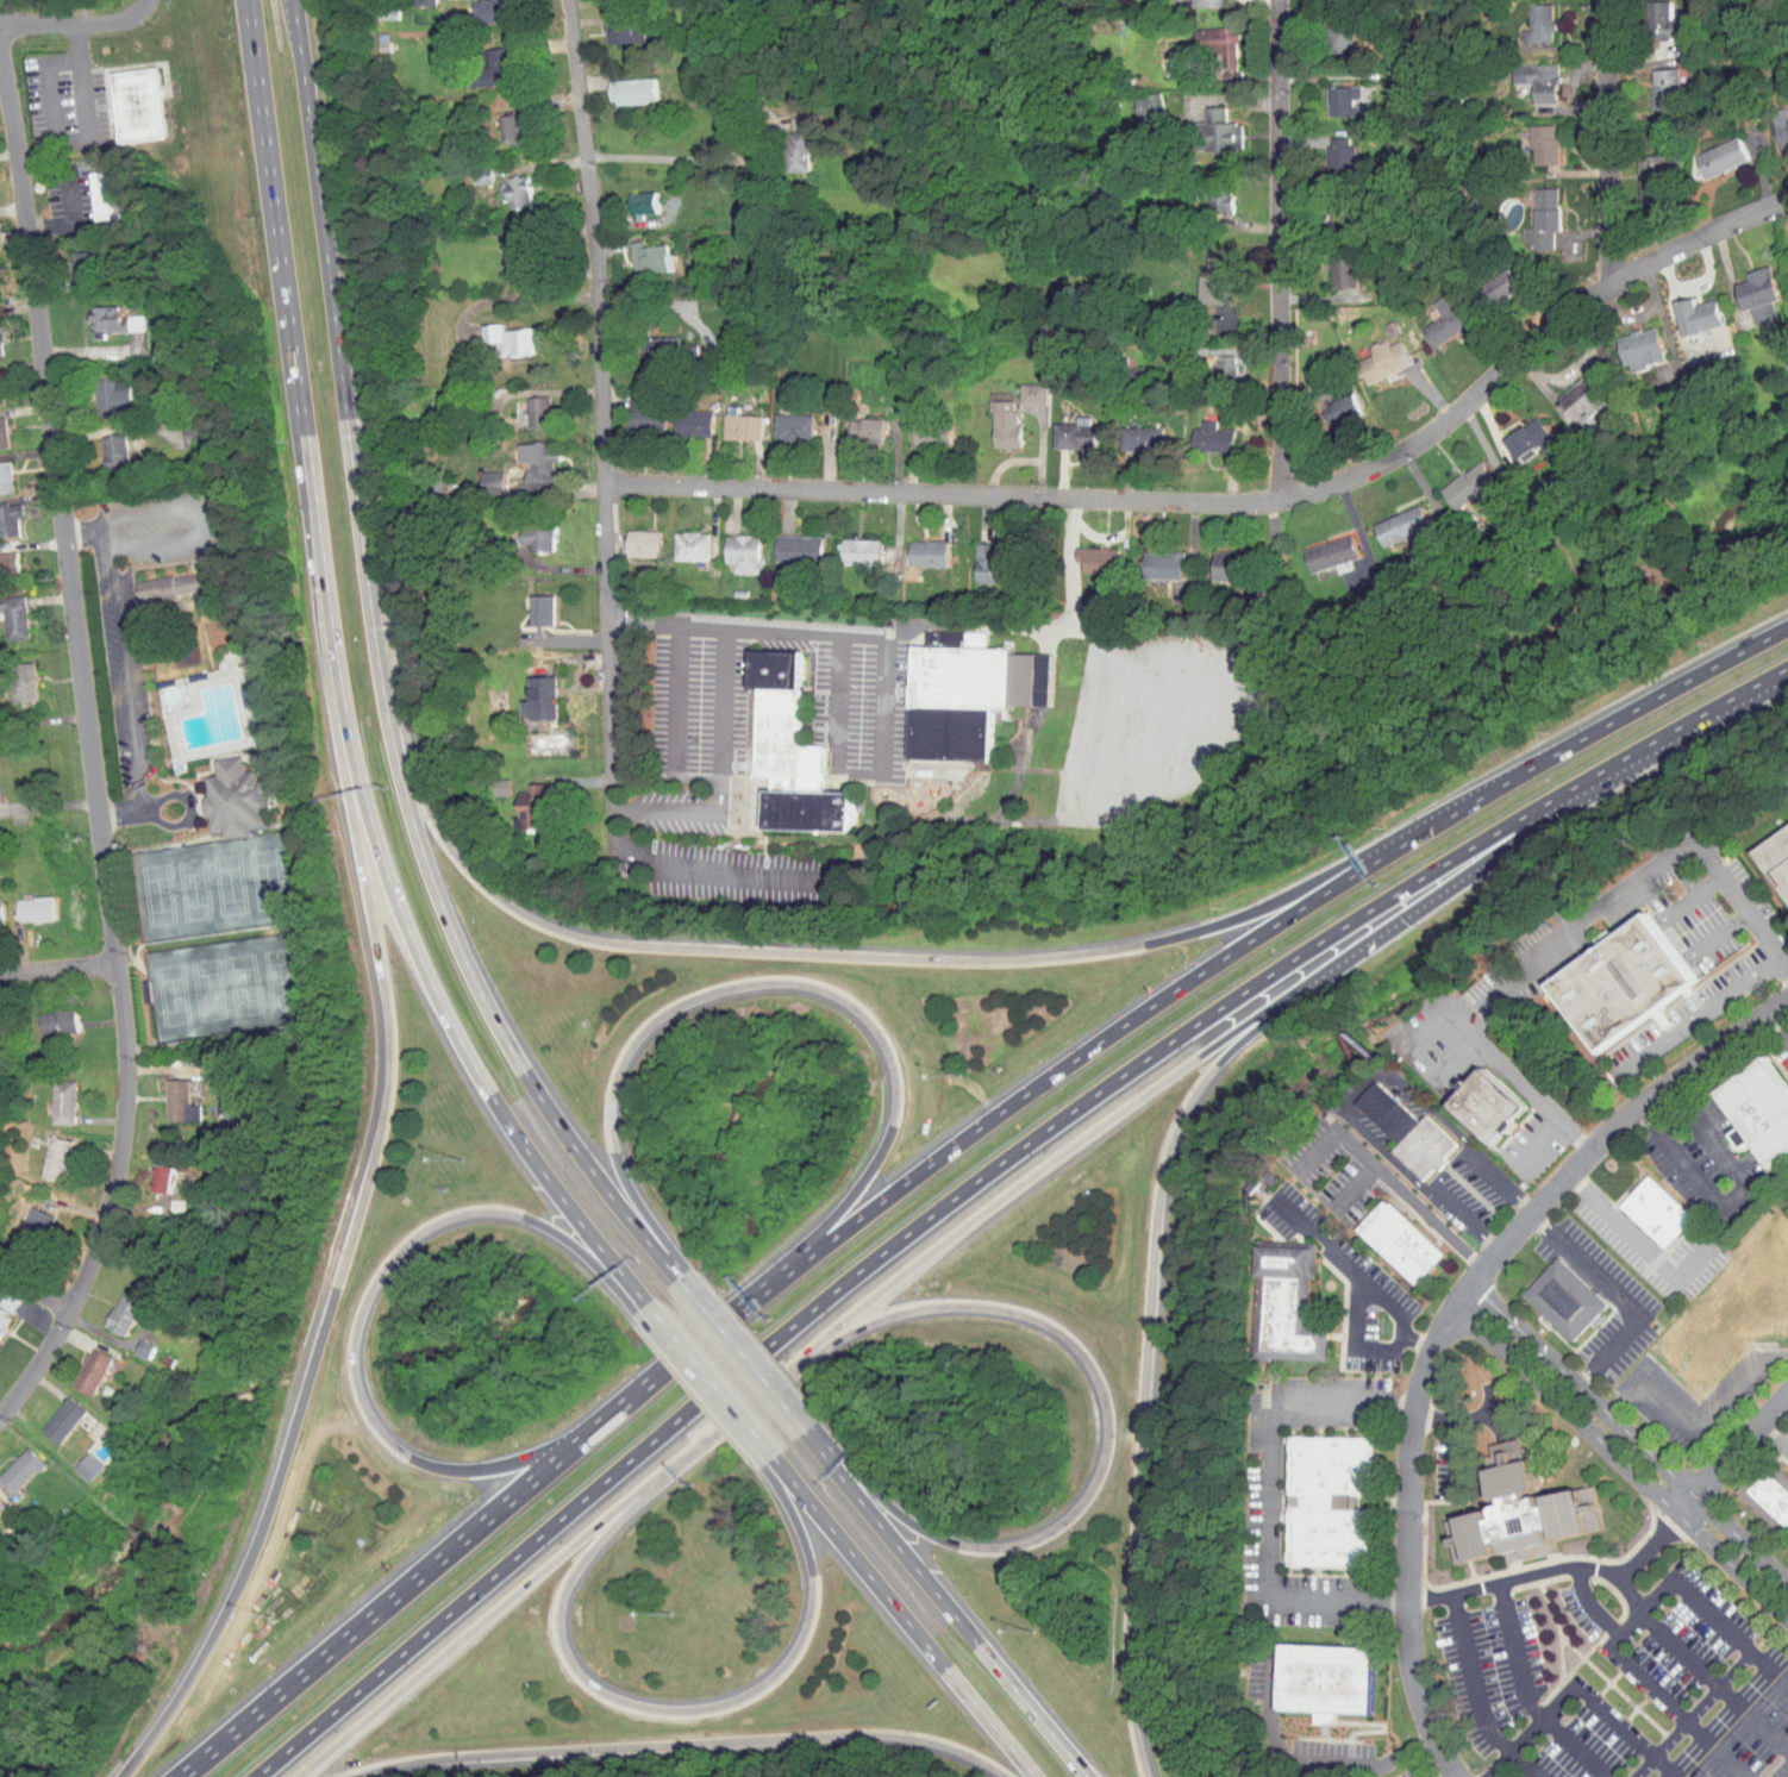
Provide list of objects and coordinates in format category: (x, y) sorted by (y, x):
building: (475, 6)
building: (1649, 17)
building: (1525, 18)
road: (76, 21)
building: (611, 21)
building: (1325, 26)
building: (1206, 38)
building: (477, 61)
building: (1525, 73)
building: (1652, 81)
building: (618, 83)
building: (1330, 93)
building: (1134, 96)
building: (124, 98)
road: (260, 114)
building: (1773, 119)
building: (496, 121)
building: (1205, 124)
building: (1531, 136)
road: (80, 138)
building: (783, 144)
building: (1327, 144)
road: (1612, 144)
building: (1709, 150)
road: (675, 159)
building: (1639, 171)
building: (501, 184)
building: (90, 187)
building: (629, 196)
building: (1329, 206)
road: (318, 208)
road: (1321, 209)
building: (1530, 213)
road: (69, 217)
road: (1281, 246)
building: (504, 251)
building: (637, 251)
building: (1786, 255)
building: (68, 258)
building: (1331, 262)
building: (1202, 274)
building: (1490, 277)
building: (1746, 287)
building: (1686, 308)
building: (1433, 312)
building: (99, 313)
road: (288, 332)
building: (499, 332)
building: (643, 342)
building: (1628, 342)
building: (1371, 353)
building: (1213, 358)
building: (1019, 387)
building: (98, 389)
building: (1570, 393)
building: (1326, 400)
building: (524, 405)
building: (631, 407)
building: (680, 417)
building: (990, 417)
building: (729, 419)
building: (780, 419)
building: (852, 423)
building: (1061, 426)
building: (181, 427)
building: (918, 427)
road: (602, 431)
building: (1200, 431)
building: (1127, 432)
building: (1515, 433)
building: (100, 445)
building: (525, 457)
road: (1019, 458)
building: (479, 475)
building: (1456, 478)
road: (1240, 502)
building: (2, 514)
building: (1388, 518)
road: (206, 523)
building: (524, 528)
road: (85, 533)
building: (630, 536)
building: (677, 539)
building: (784, 542)
building: (846, 544)
building: (914, 545)
building: (730, 546)
building: (1318, 546)
building: (1084, 552)
building: (1, 556)
building: (975, 557)
building: (1150, 558)
building: (1213, 558)
building: (158, 578)
road: (365, 582)
road: (320, 595)
building: (529, 603)
building: (6, 611)
building: (942, 631)
road: (811, 632)
road: (1763, 640)
parking lot: (124, 672)
road: (123, 674)
building: (10, 675)
road: (1771, 675)
building: (955, 690)
building: (526, 692)
road: (673, 693)
road: (724, 697)
road: (840, 699)
road: (1619, 717)
road: (1668, 731)
building: (793, 751)
road: (92, 752)
building: (486, 780)
building: (237, 797)
building: (518, 801)
road: (49, 805)
road: (127, 805)
road: (189, 811)
road: (1450, 815)
road: (127, 816)
road: (1533, 825)
building: (1775, 859)
road: (1651, 869)
road: (713, 871)
park: (207, 884)
building: (21, 902)
road: (1273, 902)
road: (443, 913)
road: (1389, 922)
road: (406, 928)
road: (721, 950)
road: (57, 969)
building: (1624, 981)
park: (226, 983)
road: (745, 983)
road: (1699, 1013)
building: (43, 1015)
road: (389, 1022)
road: (1462, 1024)
road: (1778, 1024)
road: (1079, 1055)
road: (1358, 1087)
building: (49, 1095)
building: (165, 1095)
building: (1487, 1105)
building: (1759, 1108)
building: (1388, 1112)
road: (1538, 1143)
building: (1424, 1147)
building: (42, 1152)
road: (1043, 1163)
building: (149, 1172)
road: (596, 1176)
road: (1387, 1176)
road: (1352, 1183)
road: (1732, 1195)
road: (565, 1202)
road: (839, 1209)
building: (1658, 1210)
road: (645, 1214)
building: (23, 1219)
building: (1403, 1239)
road: (1636, 1239)
road: (892, 1244)
road: (589, 1257)
road: (1355, 1271)
road: (681, 1278)
road: (33, 1291)
road: (368, 1291)
road: (1621, 1293)
building: (1568, 1300)
building: (1288, 1303)
building: (110, 1306)
road: (1445, 1320)
road: (1356, 1341)
building: (131, 1343)
road: (1079, 1350)
road: (742, 1352)
road: (1144, 1356)
road: (683, 1357)
building: (77, 1365)
road: (706, 1379)
road: (1740, 1382)
road: (1652, 1393)
building: (49, 1414)
road: (1458, 1416)
road: (718, 1428)
road: (805, 1428)
road: (1628, 1435)
road: (1773, 1438)
road: (1732, 1452)
road: (1456, 1457)
building: (11, 1460)
building: (73, 1462)
road: (1621, 1462)
road: (501, 1464)
building: (1767, 1490)
road: (1268, 1495)
road: (879, 1496)
building: (1331, 1500)
road: (790, 1510)
building: (1521, 1512)
road: (893, 1539)
road: (256, 1544)
road: (855, 1558)
road: (1513, 1579)
road: (386, 1604)
road: (1700, 1606)
road: (465, 1634)
road: (1668, 1638)
building: (1325, 1679)
road: (1649, 1681)
road: (1576, 1690)
road: (1476, 1696)
road: (1525, 1696)
road: (629, 1702)
road: (1031, 1710)
road: (989, 1722)
road: (679, 1744)
road: (1307, 1763)
road: (1446, 1772)
road: (1783, 1772)

